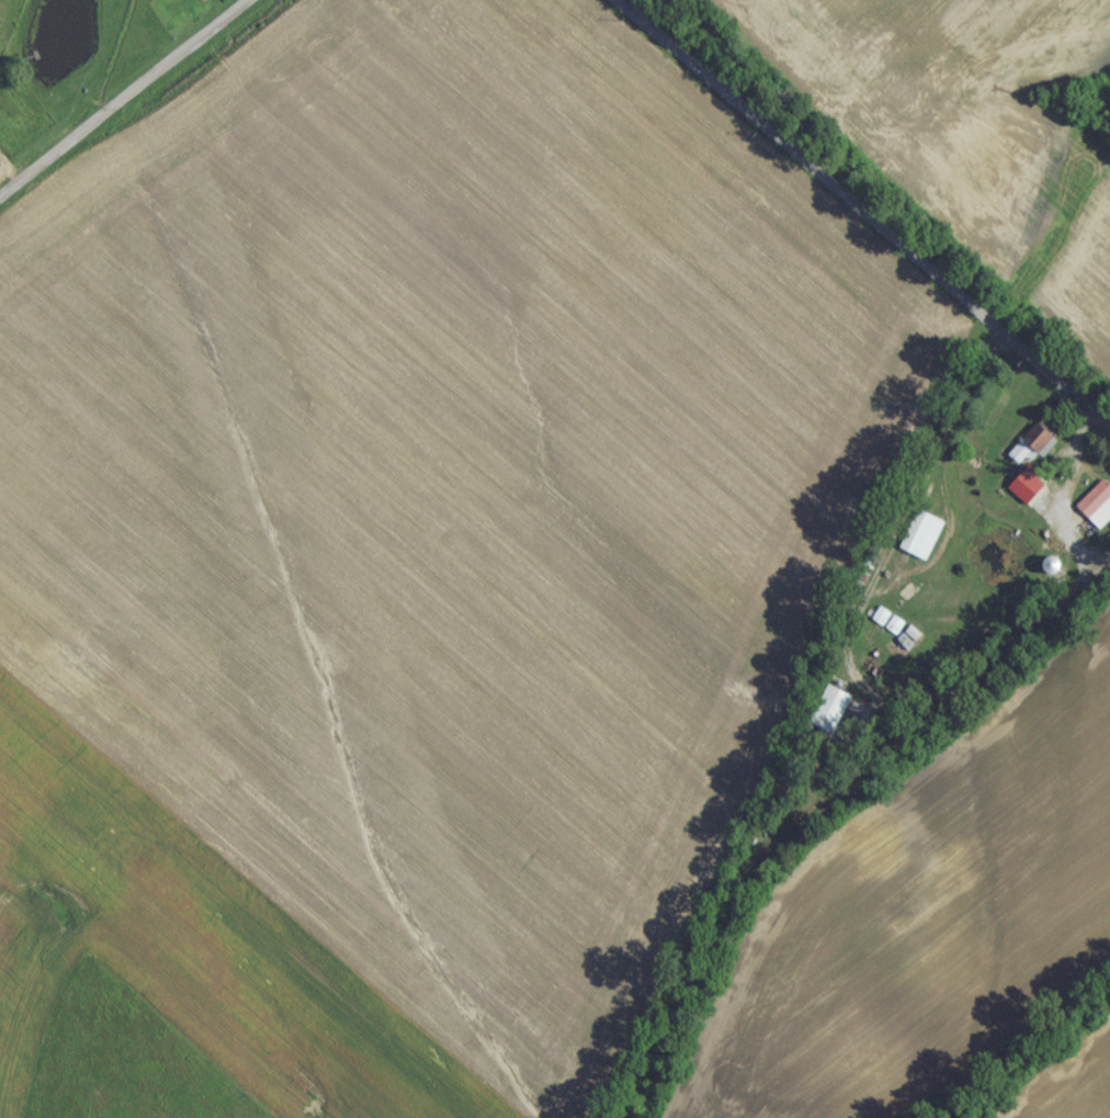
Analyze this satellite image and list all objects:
road: (122, 98)
road: (859, 215)
building: (1038, 445)
building: (1095, 512)
road: (1058, 513)
building: (917, 542)
building: (899, 652)
building: (826, 714)

